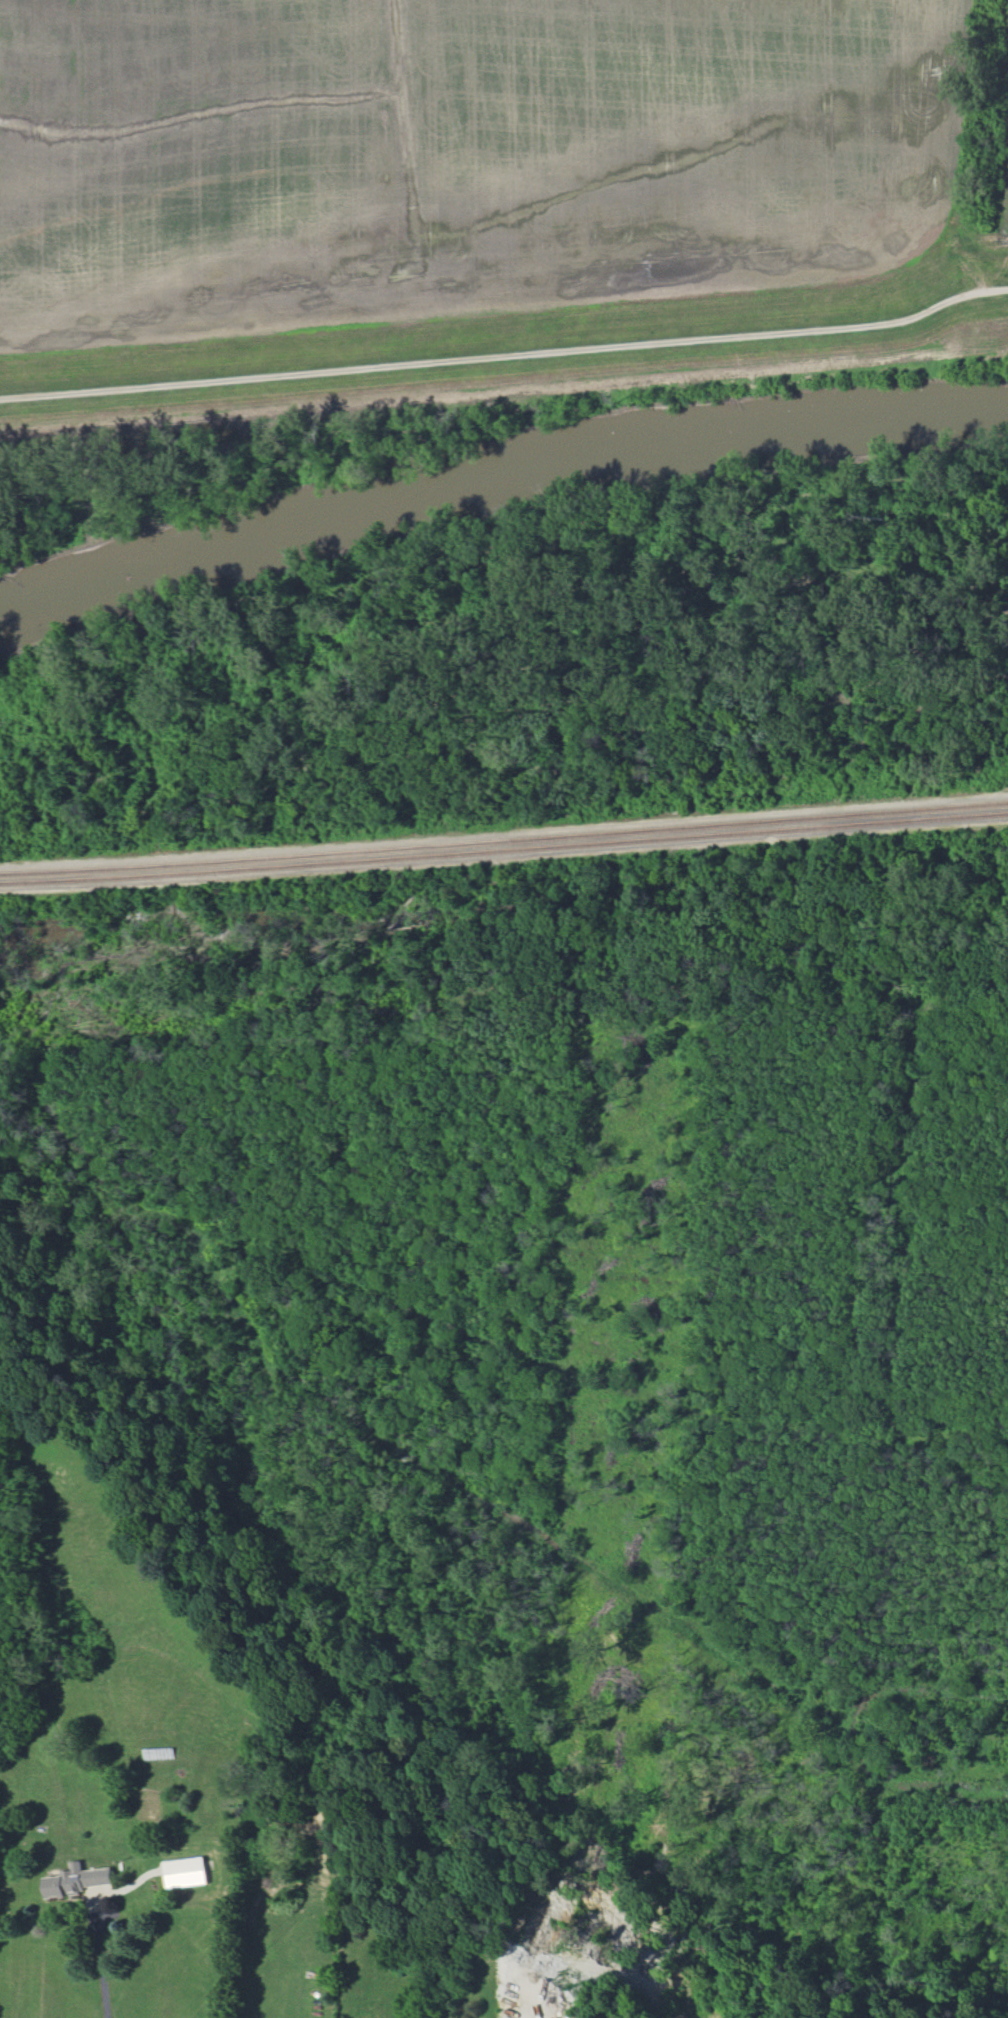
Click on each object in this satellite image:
crop: (458, 154)
road: (506, 352)
river: (498, 481)
railway: (504, 831)
railway: (504, 840)
building: (185, 1872)
building: (79, 1879)
road: (95, 1955)

